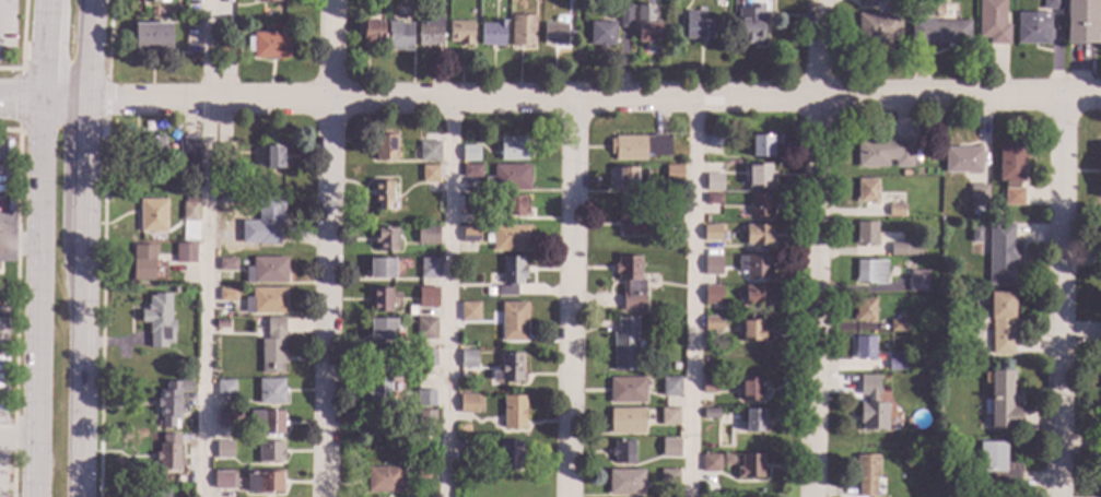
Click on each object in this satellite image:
building: (270, 0)
building: (149, 1)
building: (420, 1)
building: (866, 3)
building: (1051, 4)
building: (701, 13)
building: (624, 16)
building: (175, 21)
building: (992, 22)
building: (1080, 22)
building: (646, 25)
building: (880, 26)
building: (698, 28)
building: (1032, 28)
building: (430, 31)
building: (523, 31)
building: (749, 31)
building: (372, 32)
building: (940, 32)
building: (460, 33)
building: (554, 33)
building: (601, 33)
building: (493, 34)
building: (151, 36)
building: (398, 37)
building: (229, 44)
building: (269, 45)
road: (332, 50)
road: (90, 51)
road: (716, 98)
road: (43, 100)
road: (209, 102)
building: (713, 141)
building: (729, 142)
building: (760, 145)
building: (151, 147)
building: (190, 147)
building: (639, 147)
building: (385, 149)
building: (514, 149)
building: (429, 152)
building: (470, 153)
building: (881, 153)
building: (223, 154)
building: (273, 156)
building: (962, 159)
building: (1010, 163)
building: (471, 170)
road: (85, 171)
building: (1099, 173)
building: (429, 174)
building: (672, 174)
building: (759, 174)
building: (508, 178)
building: (626, 179)
building: (713, 182)
building: (175, 186)
building: (225, 187)
building: (866, 191)
building: (383, 194)
building: (976, 196)
building: (1012, 197)
building: (712, 199)
building: (470, 204)
building: (760, 204)
building: (514, 205)
building: (189, 209)
building: (894, 211)
building: (152, 216)
building: (671, 218)
building: (267, 221)
building: (630, 223)
building: (711, 233)
building: (866, 234)
building: (426, 235)
building: (470, 235)
building: (757, 235)
building: (507, 237)
building: (386, 240)
road: (17, 248)
road: (40, 248)
road: (208, 248)
road: (816, 248)
building: (904, 249)
building: (186, 253)
building: (1000, 255)
building: (142, 262)
building: (227, 264)
building: (712, 265)
building: (753, 267)
building: (0, 269)
building: (380, 269)
building: (429, 269)
building: (266, 271)
building: (869, 272)
building: (511, 275)
building: (917, 281)
building: (630, 282)
building: (489, 292)
building: (226, 295)
building: (712, 295)
building: (757, 296)
building: (426, 297)
road: (1062, 297)
road: (328, 298)
road: (447, 298)
road: (570, 298)
road: (691, 298)
building: (380, 300)
building: (266, 301)
building: (864, 310)
building: (469, 312)
building: (157, 321)
building: (513, 321)
building: (1000, 322)
building: (712, 323)
building: (222, 324)
building: (898, 326)
building: (259, 328)
building: (425, 328)
building: (910, 329)
building: (382, 331)
building: (751, 331)
building: (624, 344)
building: (272, 346)
building: (863, 348)
building: (426, 357)
building: (379, 359)
building: (467, 359)
building: (894, 360)
road: (85, 368)
building: (509, 368)
building: (708, 386)
building: (669, 387)
building: (225, 389)
building: (750, 389)
building: (628, 390)
building: (379, 391)
building: (270, 392)
building: (424, 399)
building: (1000, 401)
building: (171, 402)
building: (470, 403)
building: (870, 405)
building: (513, 412)
building: (710, 413)
building: (238, 416)
building: (668, 416)
building: (224, 418)
building: (425, 421)
building: (625, 421)
building: (753, 421)
building: (266, 423)
building: (378, 423)
building: (941, 430)
road: (19, 435)
building: (669, 445)
building: (465, 446)
building: (223, 450)
building: (622, 451)
building: (269, 452)
building: (168, 453)
building: (509, 453)
building: (710, 463)
building: (750, 466)
building: (995, 468)
building: (424, 470)
building: (866, 475)
building: (669, 476)
building: (223, 480)
building: (383, 480)
building: (624, 482)
building: (263, 483)
building: (157, 493)

